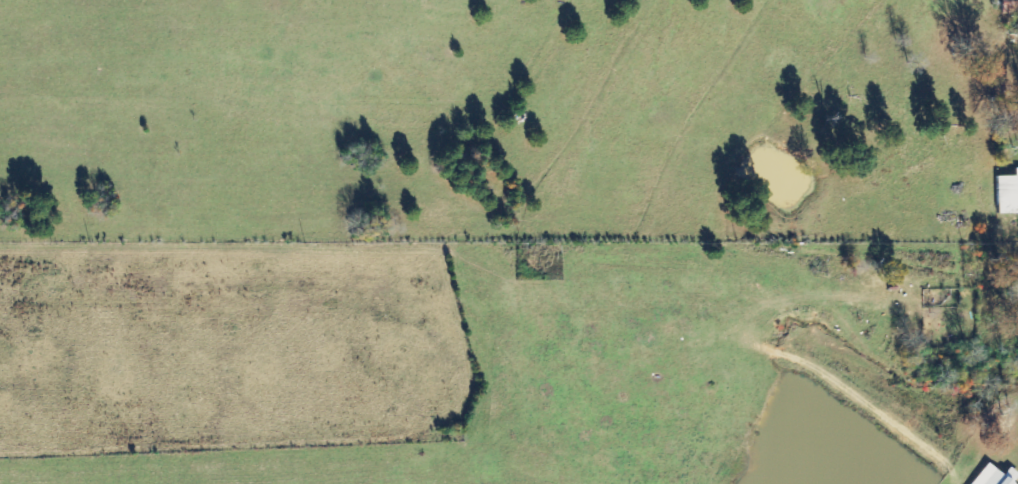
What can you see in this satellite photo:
building: (1005, 192)
building: (993, 476)

